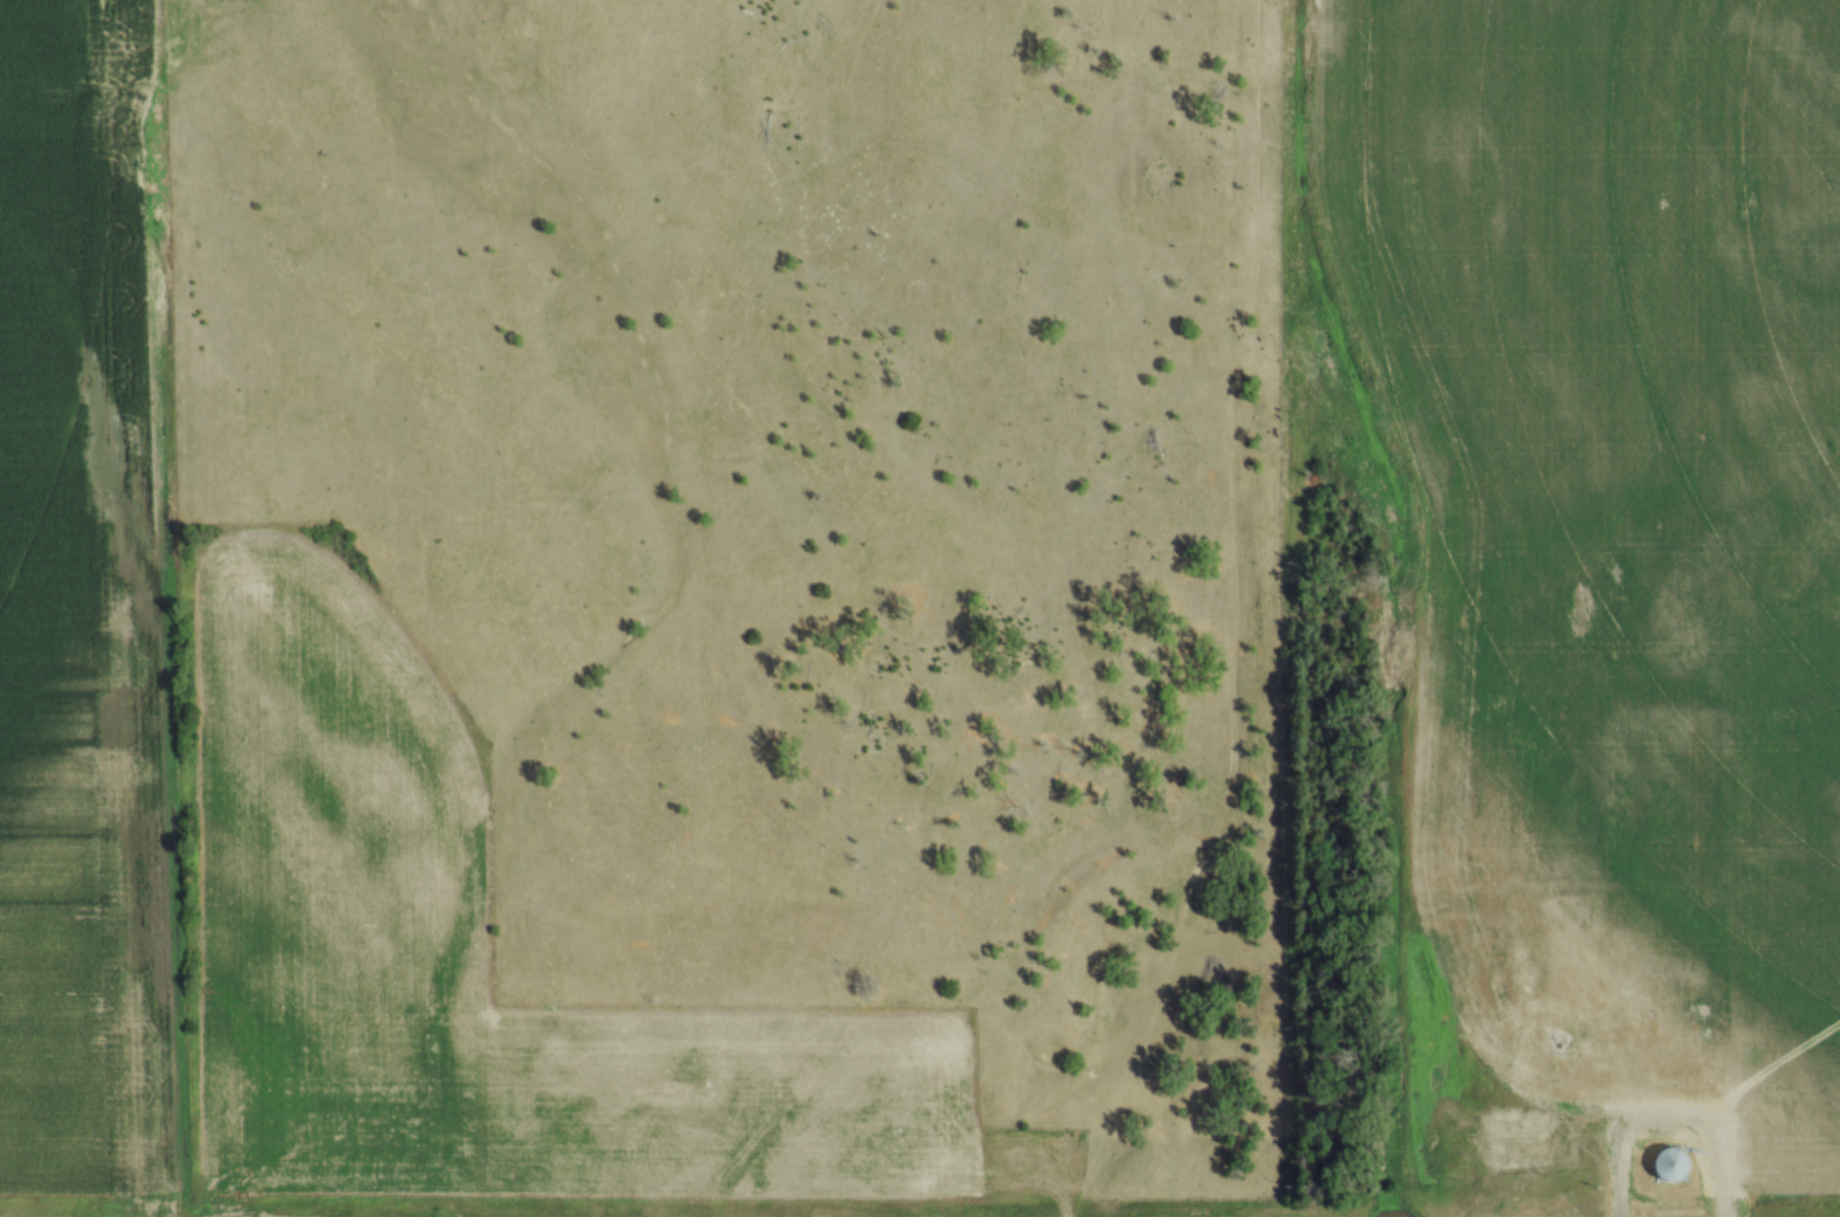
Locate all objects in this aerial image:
building: (1663, 1166)

